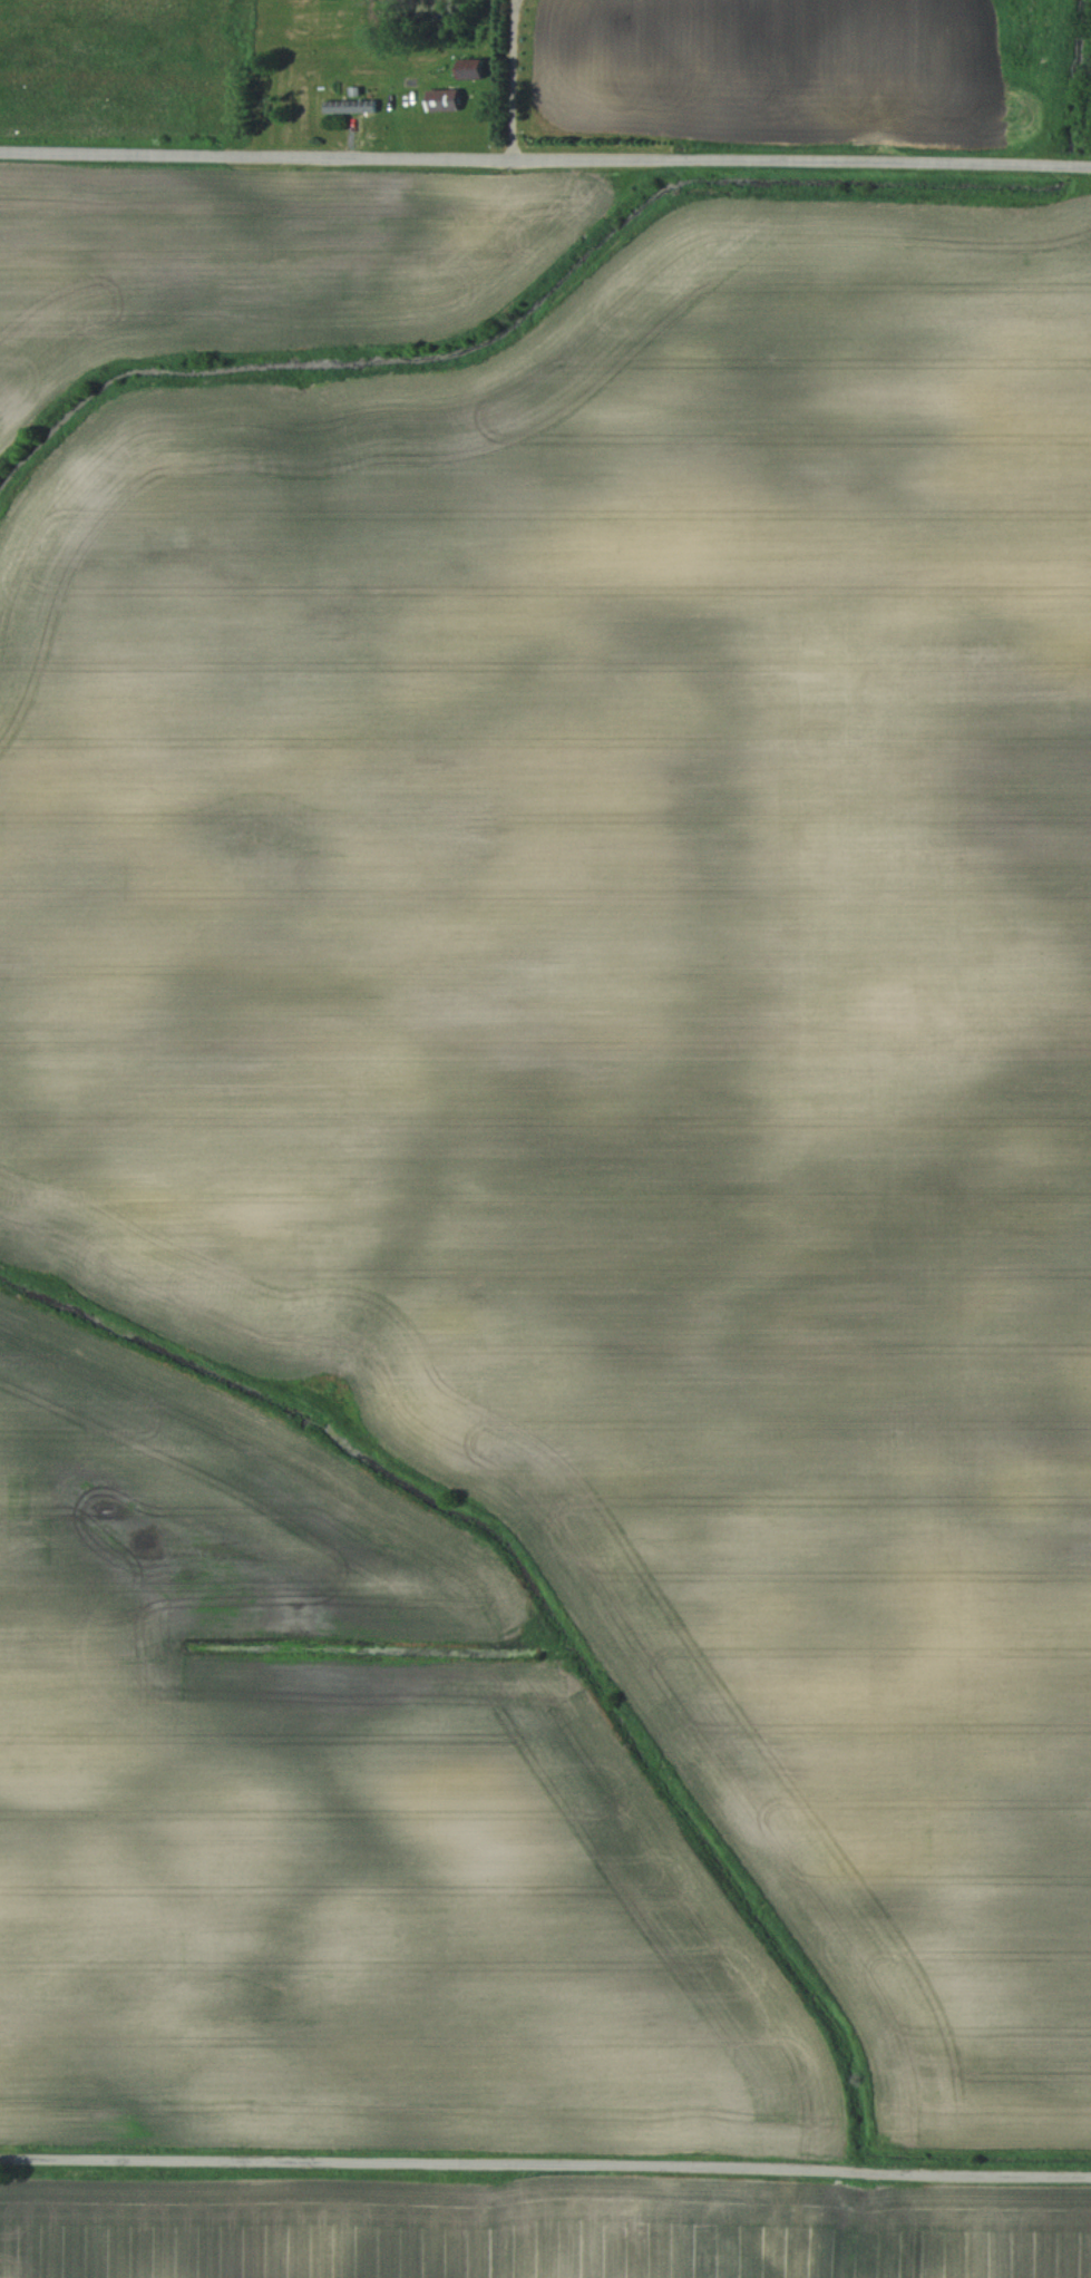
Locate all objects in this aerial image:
building: (467, 69)
road: (533, 78)
building: (438, 100)
building: (345, 107)
road: (545, 156)
road: (545, 2165)

